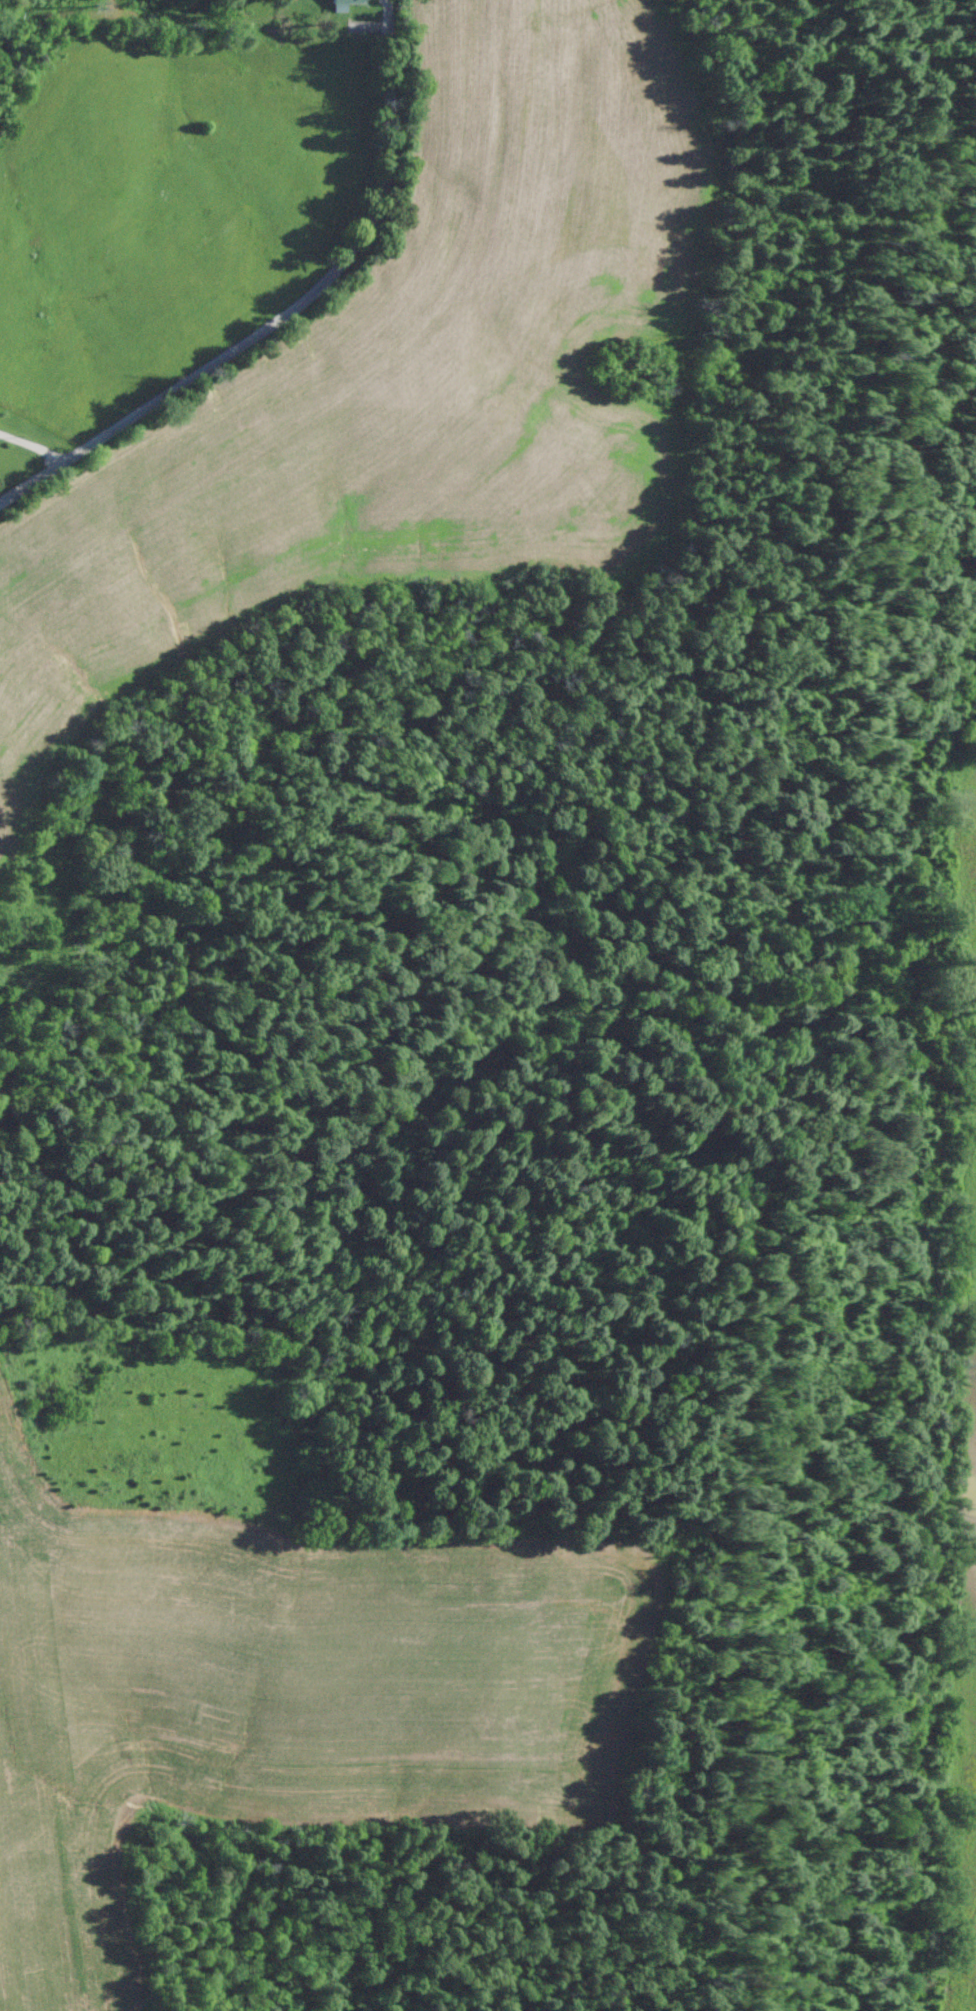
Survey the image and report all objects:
building: (347, 2)
road: (314, 342)
road: (709, 679)
road: (594, 1313)

